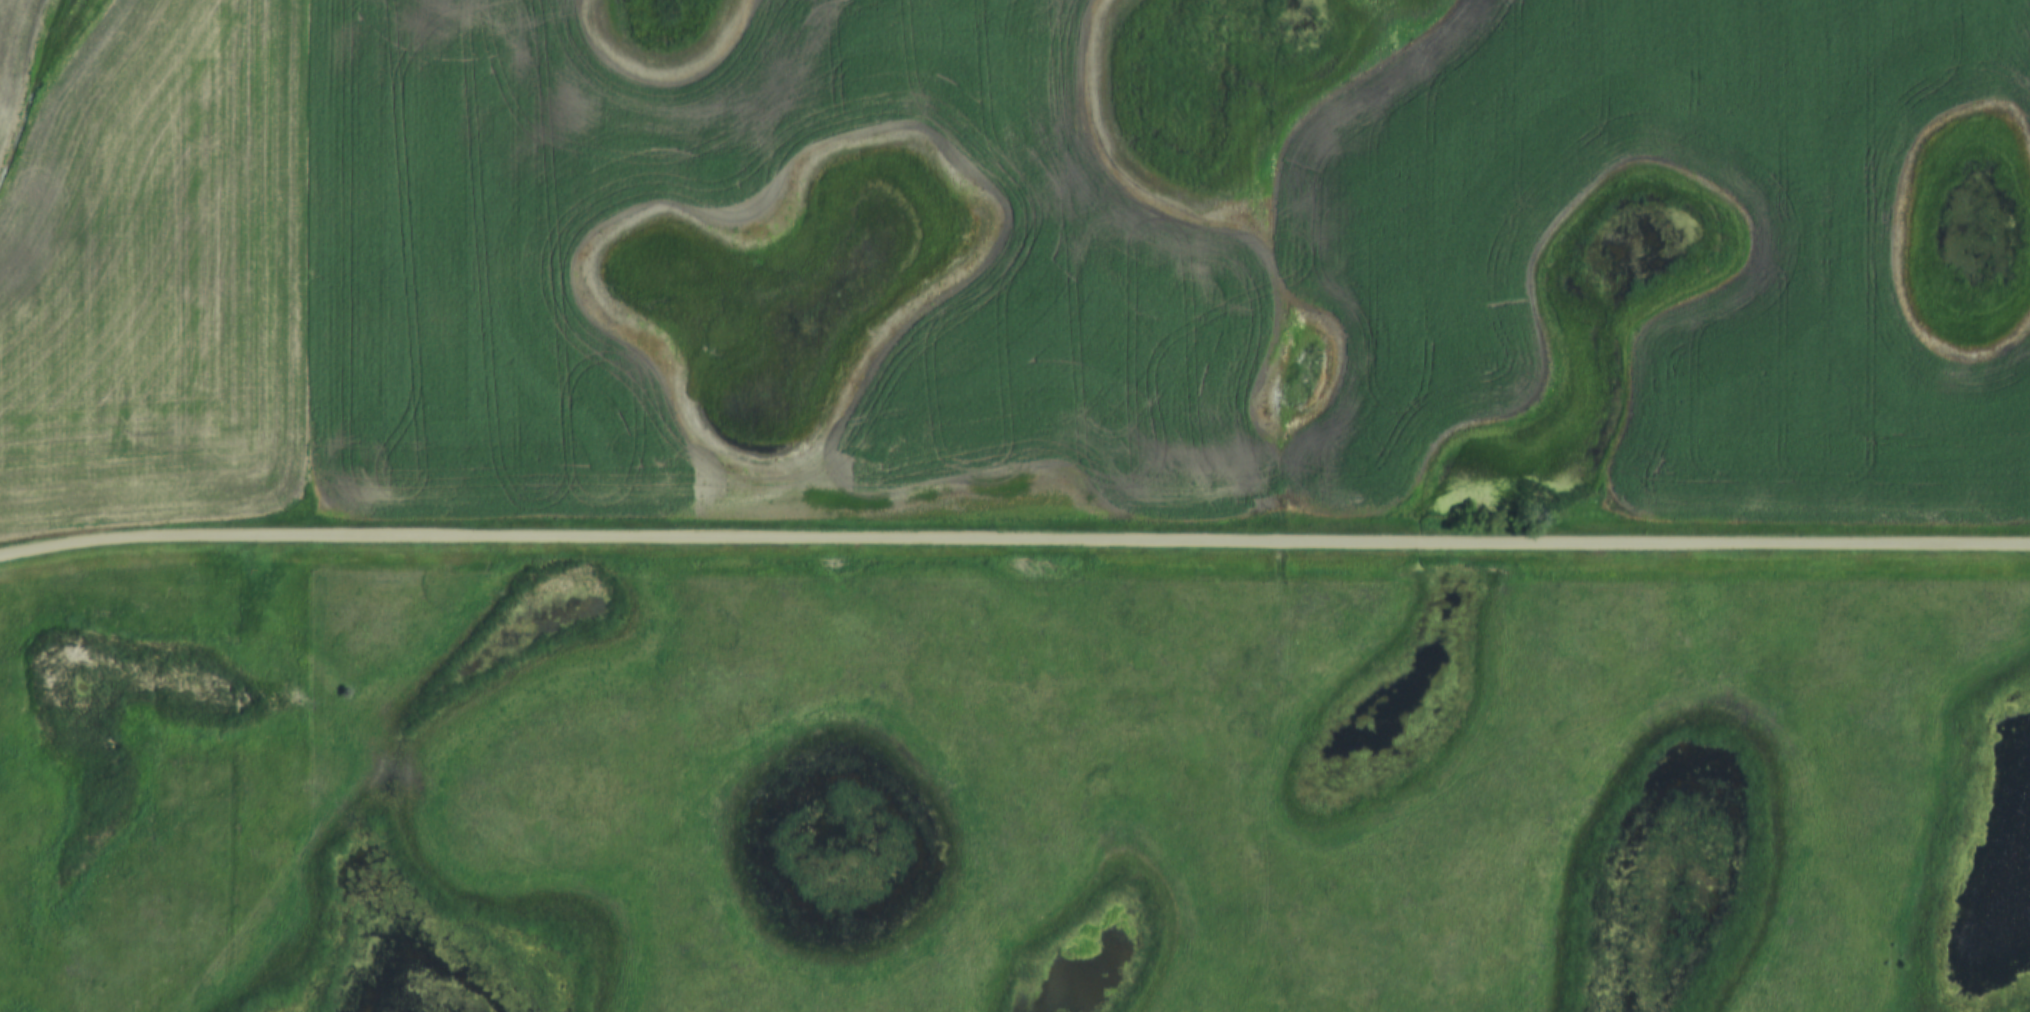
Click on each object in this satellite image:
road: (1014, 544)

